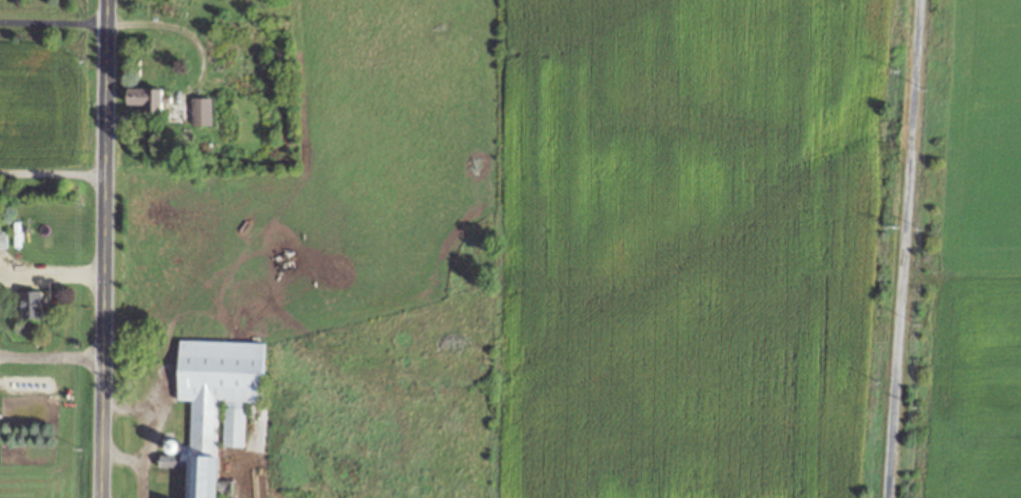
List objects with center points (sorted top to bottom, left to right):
road: (51, 23)
road: (179, 29)
building: (142, 99)
building: (199, 111)
road: (51, 175)
building: (2, 239)
road: (102, 249)
road: (900, 249)
road: (51, 268)
building: (30, 305)
road: (50, 356)
building: (212, 408)
road: (145, 427)
road: (122, 454)

